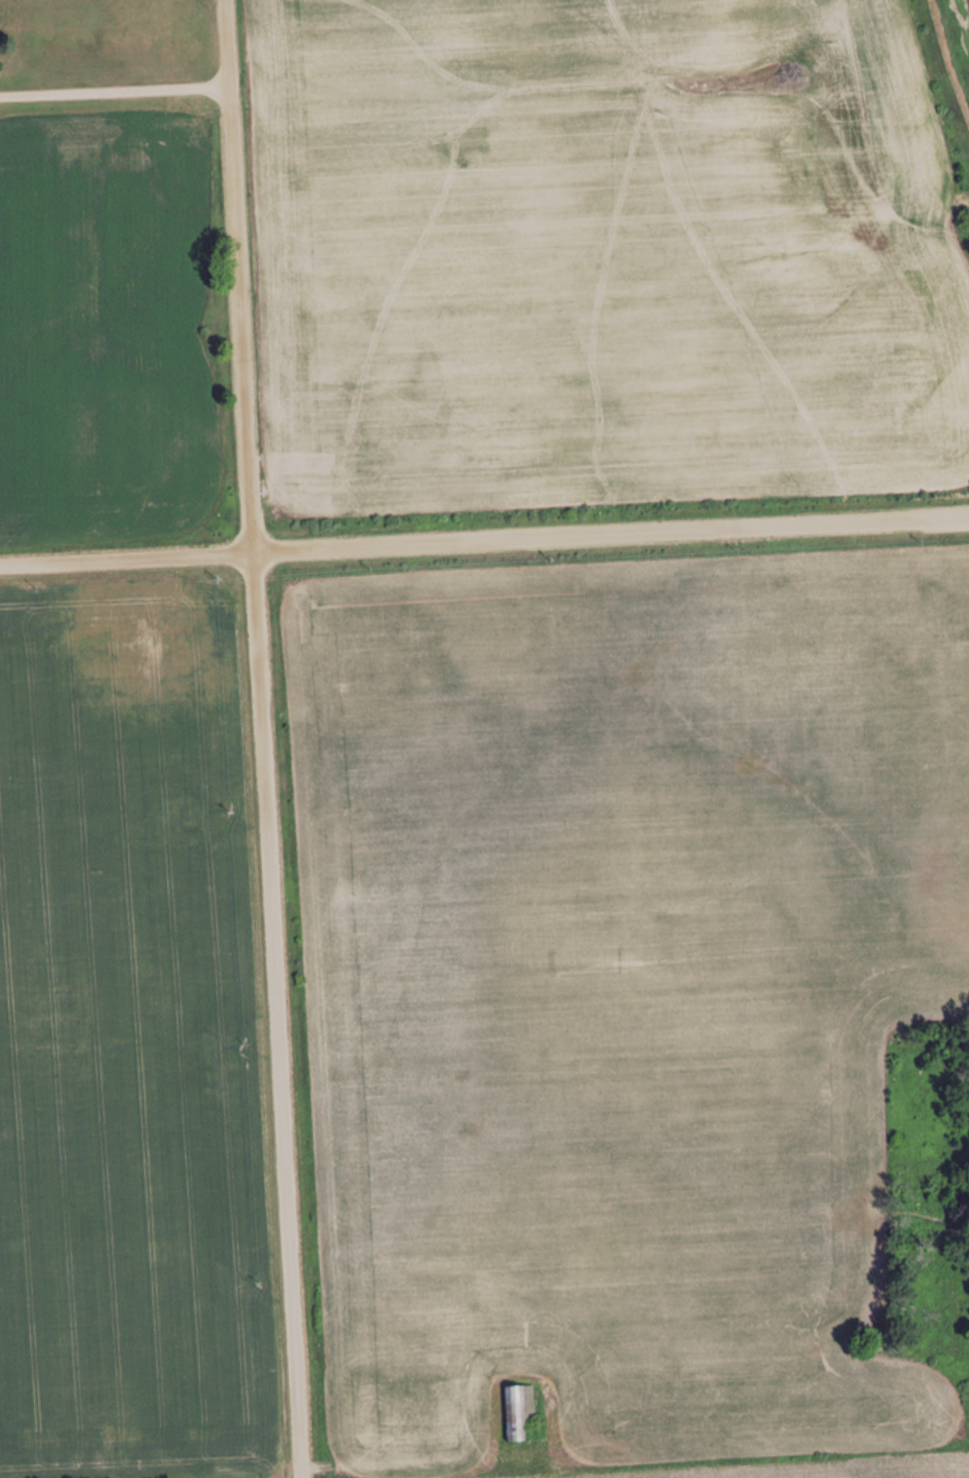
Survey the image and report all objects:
road: (484, 545)
road: (261, 738)
crop: (624, 998)
crop: (127, 1041)
building: (454, 1395)
building: (518, 1411)
building: (395, 1431)

